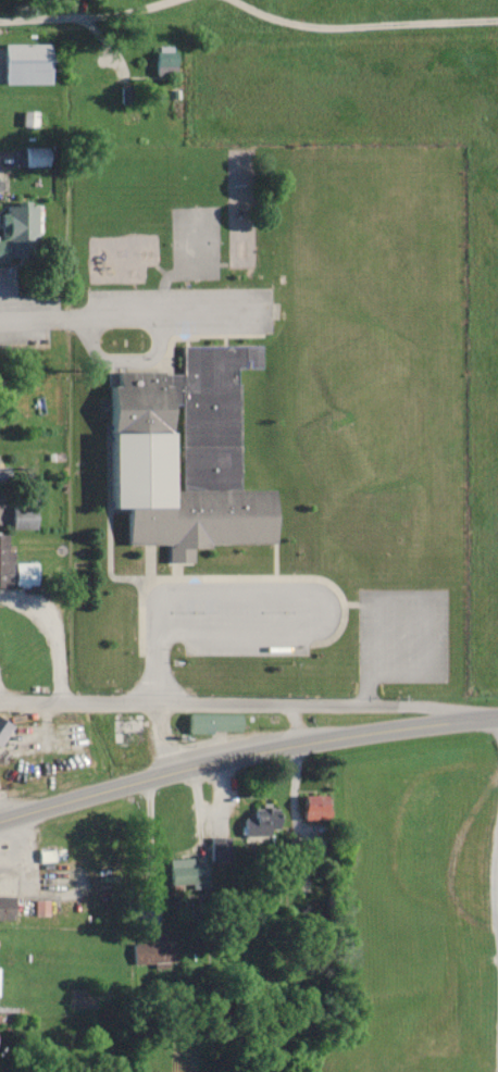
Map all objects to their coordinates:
road: (80, 14)
building: (166, 62)
building: (22, 63)
building: (37, 159)
building: (15, 234)
park: (188, 244)
parking lot: (191, 306)
road: (126, 313)
building: (179, 451)
building: (25, 522)
road: (270, 547)
road: (102, 557)
building: (15, 569)
road: (171, 572)
road: (213, 578)
parking lot: (234, 623)
road: (331, 631)
parking lot: (396, 635)
road: (245, 702)
road: (494, 711)
building: (208, 723)
building: (1, 724)
building: (128, 731)
road: (242, 758)
building: (316, 808)
building: (261, 825)
building: (220, 850)
building: (179, 873)
building: (15, 874)
gas station: (1, 906)
building: (7, 908)
building: (147, 948)

